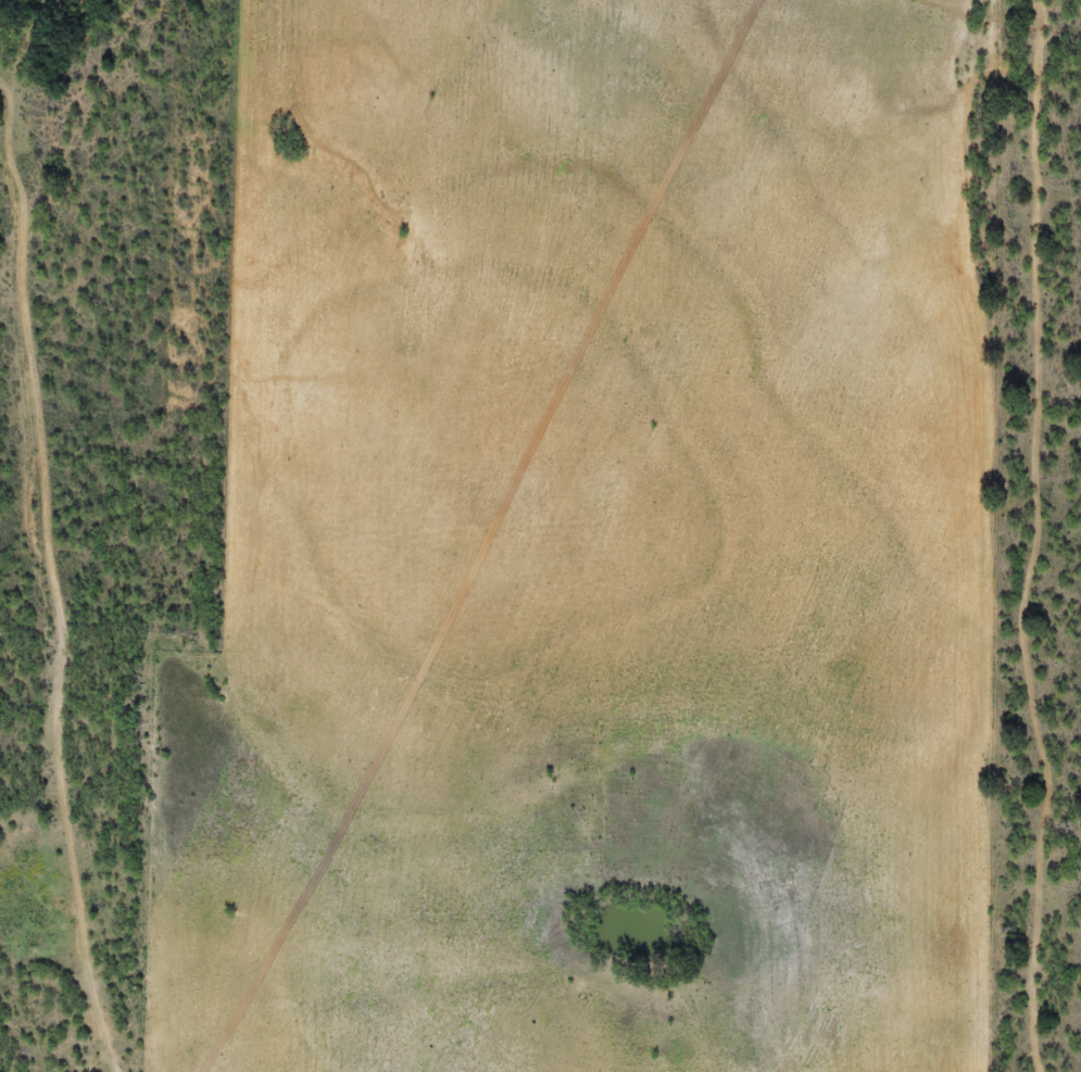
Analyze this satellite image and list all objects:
road: (51, 636)

